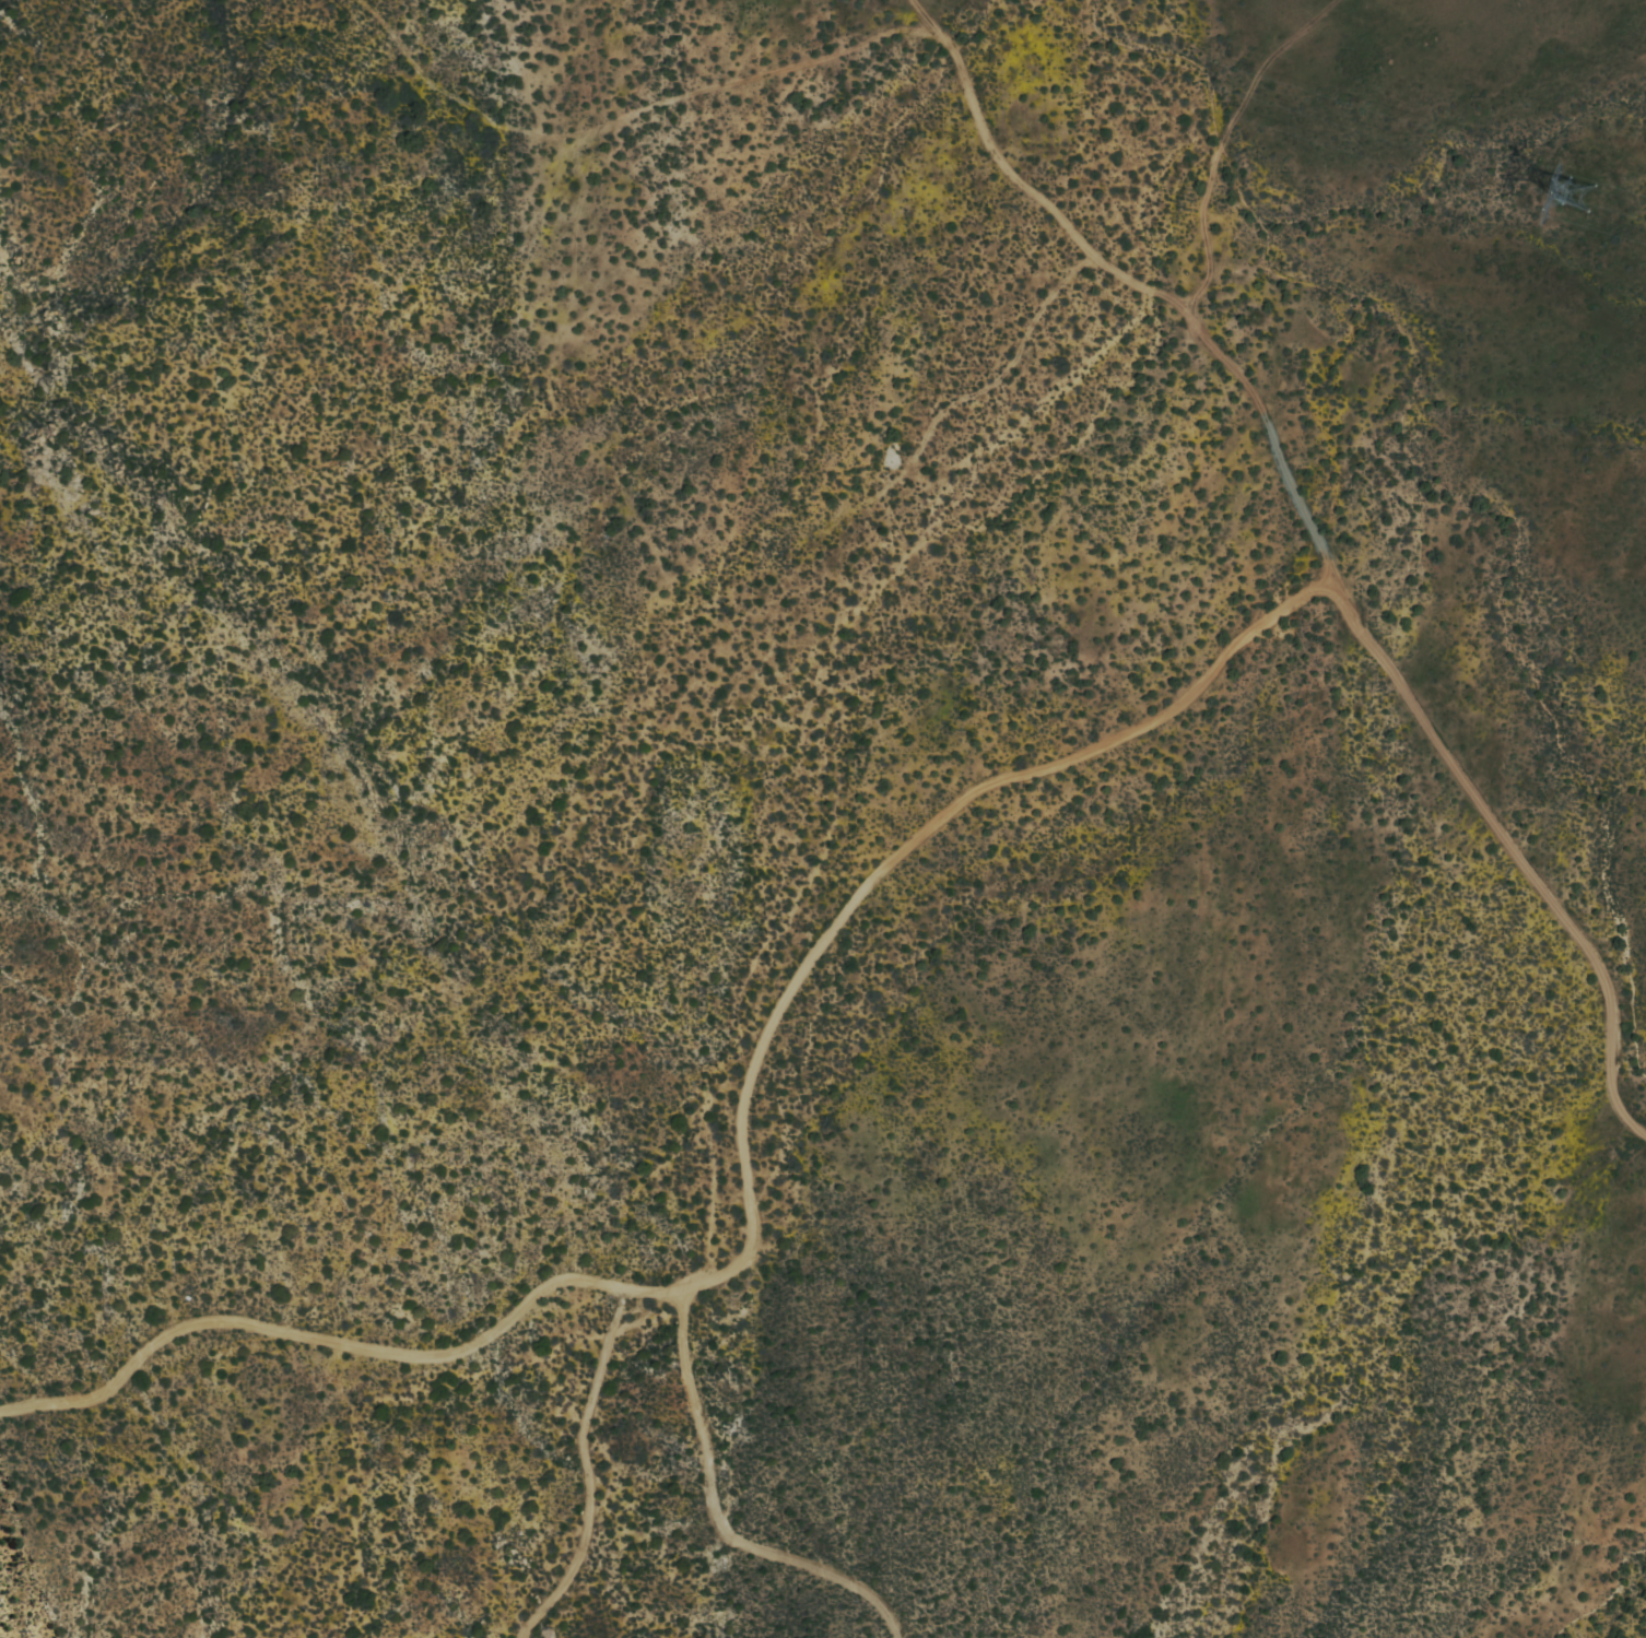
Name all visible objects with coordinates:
power tower: (1590, 199)

